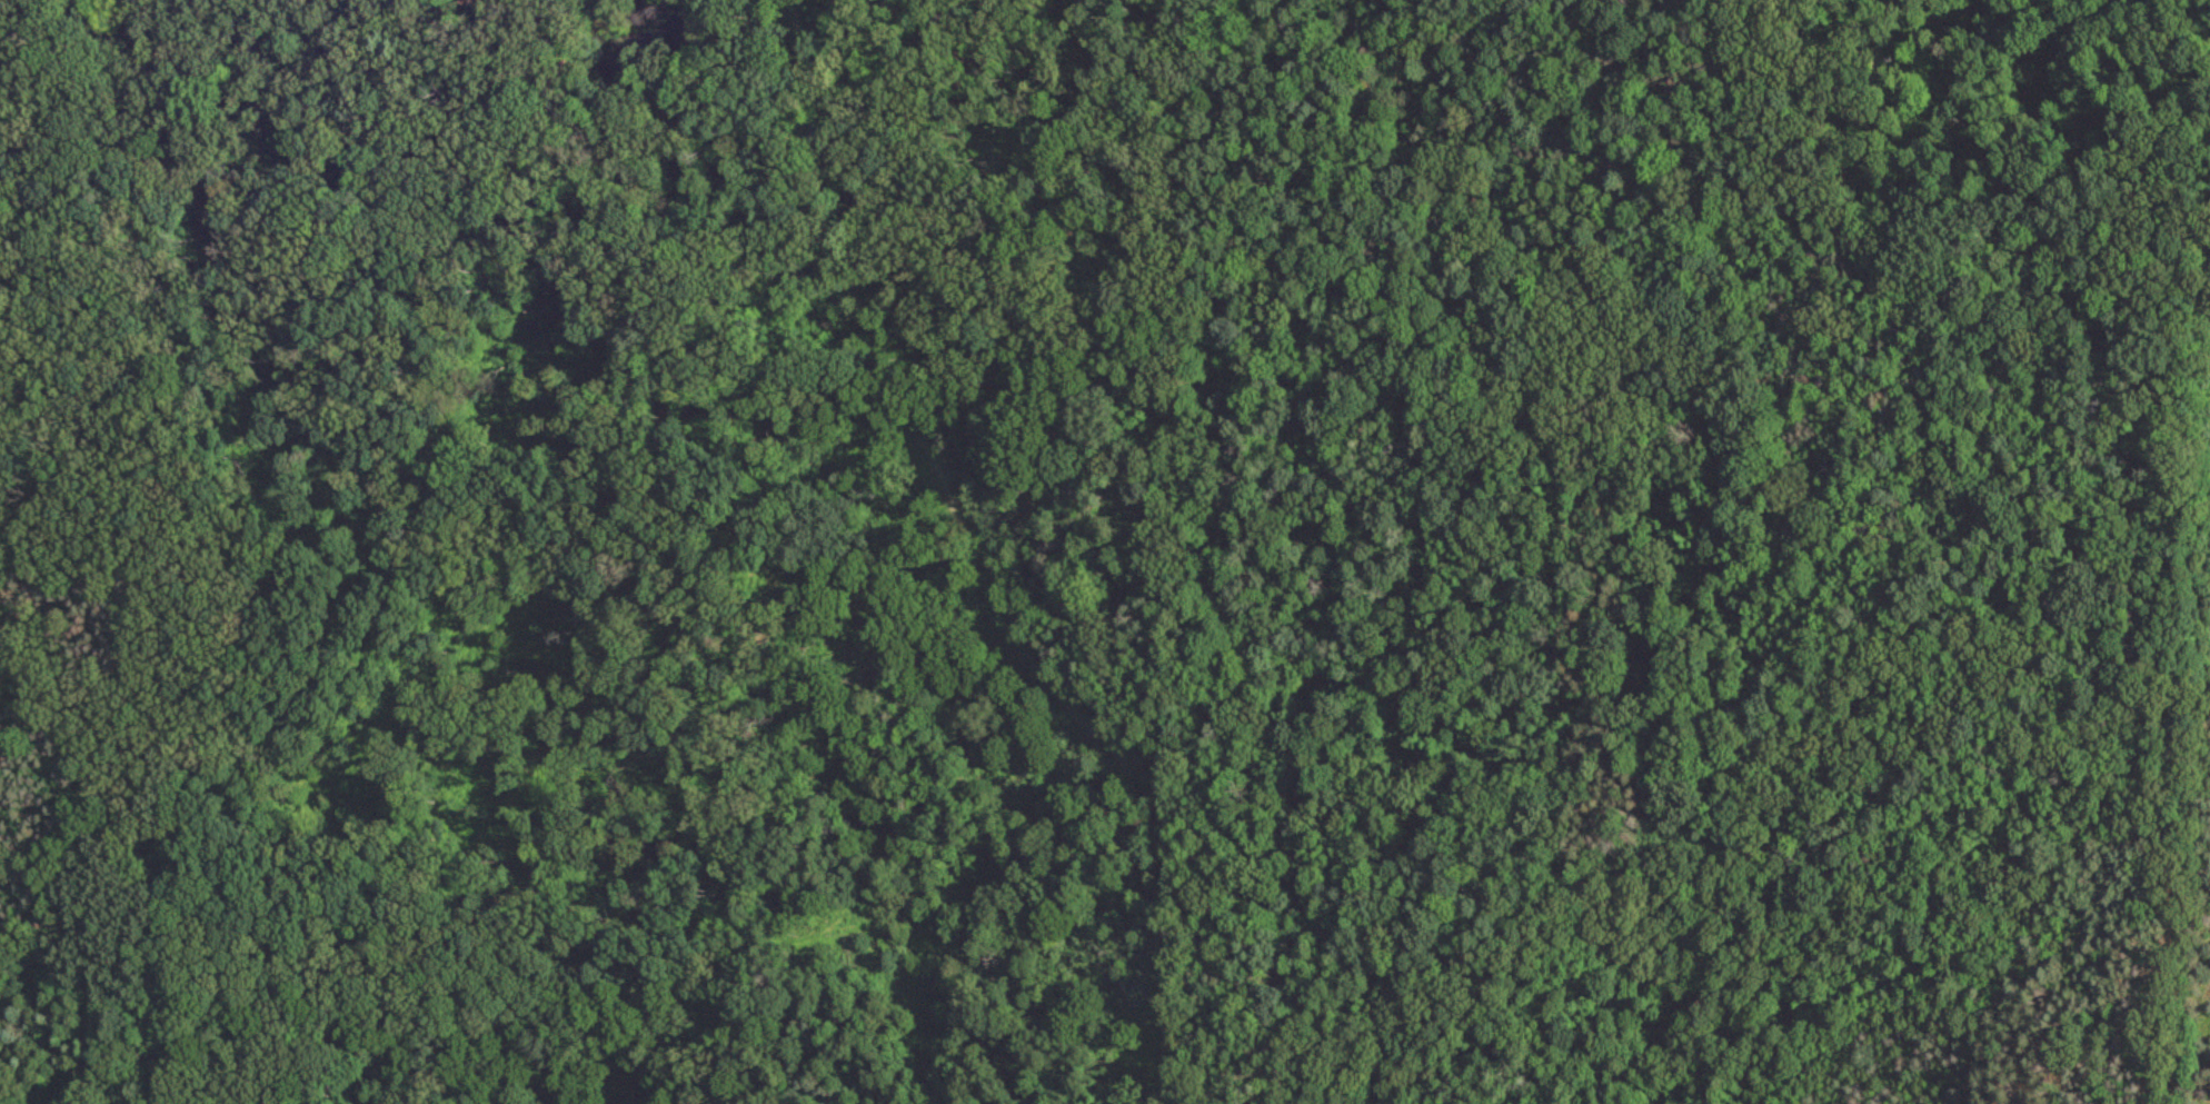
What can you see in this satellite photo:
road: (208, 136)
road: (977, 564)
road: (249, 715)

